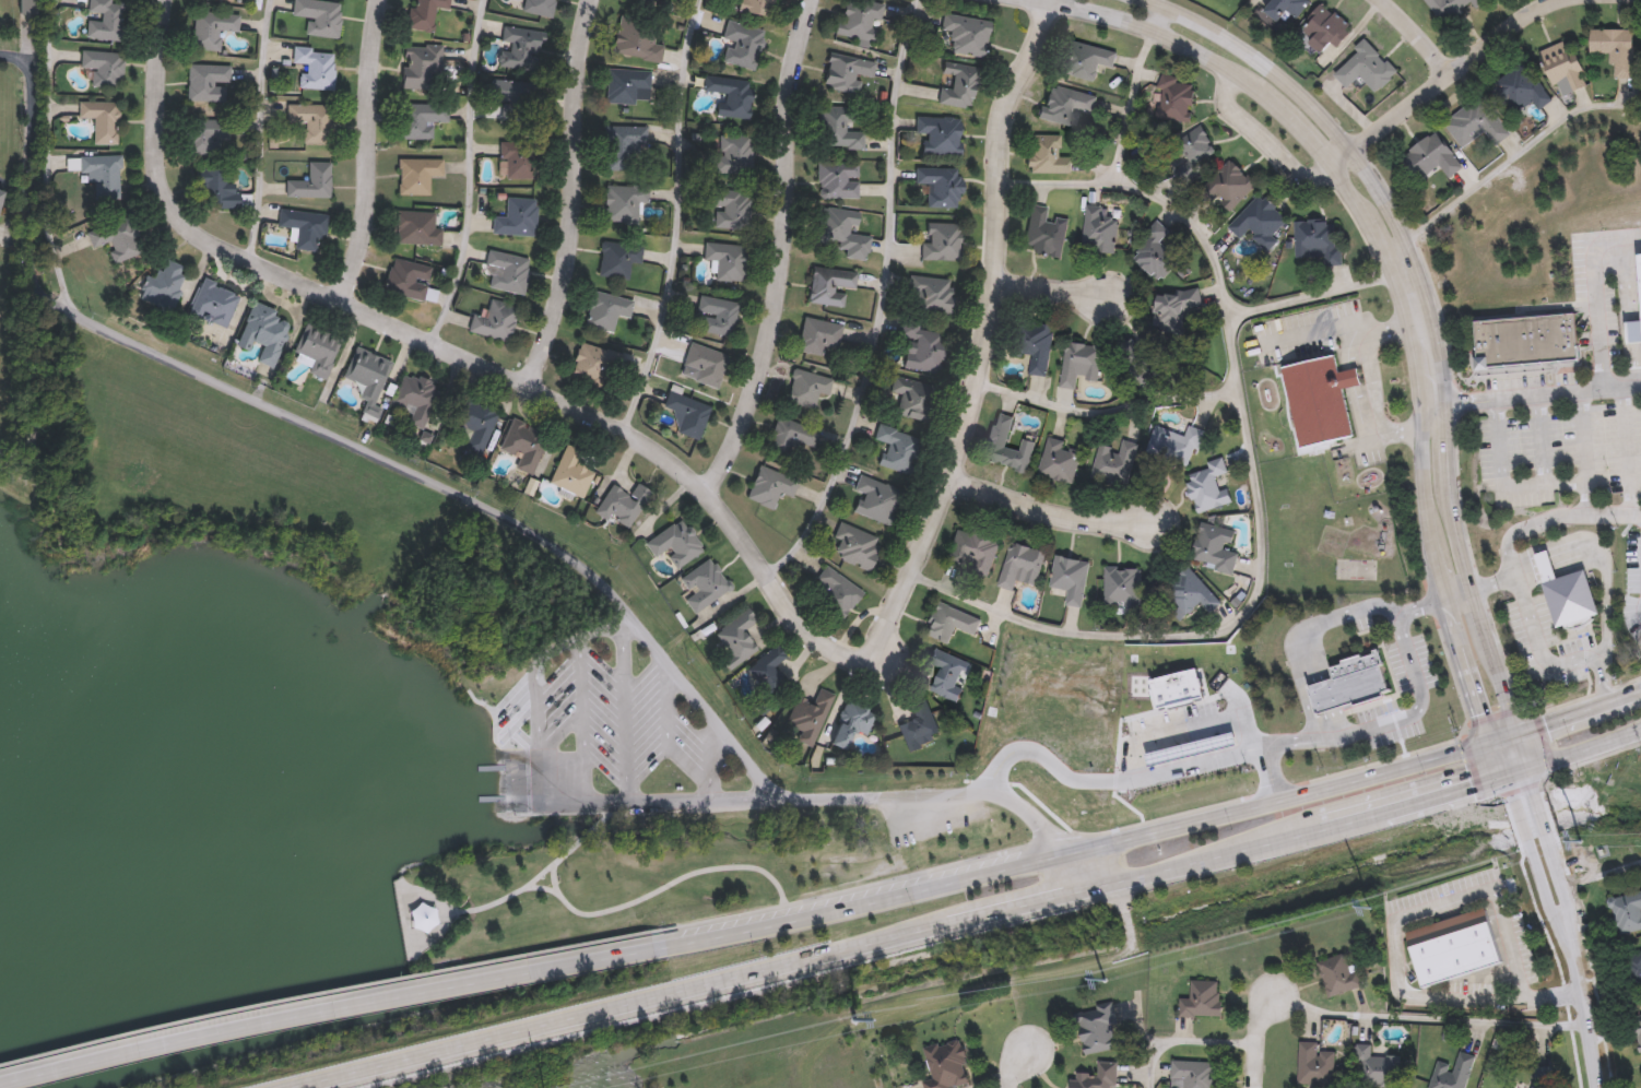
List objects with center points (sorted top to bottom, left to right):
building: (226, 0)
building: (654, 0)
building: (540, 8)
building: (756, 8)
building: (1286, 8)
building: (1452, 8)
building: (425, 13)
road: (1155, 14)
building: (320, 16)
building: (106, 20)
building: (859, 21)
building: (212, 29)
building: (1325, 29)
building: (966, 34)
road: (1416, 34)
building: (637, 40)
building: (743, 46)
building: (520, 48)
building: (1616, 49)
building: (1086, 60)
building: (104, 67)
building: (423, 67)
building: (317, 68)
building: (1367, 68)
building: (1563, 68)
building: (847, 74)
road: (1439, 81)
building: (208, 83)
building: (629, 86)
building: (957, 86)
building: (1520, 88)
building: (731, 94)
building: (512, 99)
building: (1177, 102)
building: (1066, 105)
road: (1126, 105)
building: (102, 120)
building: (422, 120)
building: (311, 121)
building: (1476, 122)
road: (261, 128)
building: (839, 128)
building: (203, 133)
building: (941, 135)
road: (1265, 137)
road: (1311, 142)
building: (626, 147)
road: (366, 151)
building: (1193, 151)
building: (734, 154)
road: (1516, 154)
building: (1047, 155)
road: (46, 156)
building: (1432, 156)
building: (518, 159)
road: (31, 173)
building: (103, 175)
road: (472, 175)
building: (418, 176)
building: (838, 179)
building: (312, 182)
road: (15, 186)
building: (941, 186)
building: (1231, 186)
road: (1388, 186)
building: (216, 188)
building: (0, 192)
road: (574, 197)
building: (624, 203)
building: (732, 209)
building: (517, 218)
road: (672, 218)
building: (1260, 222)
building: (304, 226)
building: (417, 228)
building: (1046, 232)
building: (846, 233)
building: (1100, 234)
building: (117, 238)
building: (1317, 240)
building: (942, 241)
road: (1394, 247)
road: (781, 251)
building: (1157, 252)
building: (618, 259)
building: (727, 260)
building: (1639, 271)
building: (508, 272)
building: (408, 279)
building: (164, 285)
building: (830, 285)
road: (1603, 289)
road: (1049, 291)
building: (931, 294)
road: (1310, 295)
road: (883, 299)
building: (214, 304)
building: (1178, 305)
building: (607, 310)
building: (718, 315)
building: (495, 321)
road: (1435, 327)
building: (264, 332)
building: (1633, 332)
building: (818, 335)
building: (1525, 339)
road: (984, 341)
building: (1032, 343)
building: (923, 347)
building: (318, 348)
road: (447, 351)
building: (1081, 363)
building: (592, 364)
building: (707, 364)
building: (1144, 366)
building: (368, 372)
road: (1368, 383)
building: (807, 388)
road: (1543, 393)
building: (416, 397)
building: (1320, 399)
building: (913, 401)
road: (1103, 413)
building: (688, 414)
building: (474, 423)
road: (1433, 425)
building: (791, 436)
road: (1582, 437)
road: (1540, 440)
building: (999, 441)
road: (1370, 441)
building: (524, 444)
building: (1176, 445)
building: (897, 448)
road: (1624, 452)
building: (1061, 461)
building: (1114, 463)
building: (571, 473)
building: (771, 486)
building: (1208, 486)
road: (1243, 487)
road: (1514, 487)
building: (876, 499)
building: (622, 504)
road: (1461, 506)
road: (1047, 509)
road: (541, 536)
building: (676, 543)
building: (857, 545)
building: (1215, 548)
building: (975, 551)
road: (1599, 554)
building: (1022, 566)
building: (1071, 579)
building: (705, 584)
building: (1123, 588)
building: (1190, 594)
building: (1566, 594)
road: (1449, 603)
road: (1378, 606)
building: (951, 622)
building: (737, 638)
road: (1547, 661)
building: (768, 671)
building: (949, 673)
road: (533, 678)
building: (1347, 682)
gas station: (1177, 686)
road: (627, 708)
road: (1417, 711)
road: (1578, 711)
building: (811, 716)
road: (582, 717)
parking lot: (628, 720)
building: (851, 722)
building: (919, 725)
road: (559, 730)
traffic signals: (1515, 731)
traffic signals: (1494, 738)
road: (670, 741)
road: (1259, 742)
building: (1188, 746)
road: (1584, 747)
road: (517, 752)
road: (712, 755)
pier: (489, 766)
traffic signals: (1527, 769)
road: (1516, 772)
traffic signals: (1506, 776)
road: (1102, 779)
road: (543, 780)
road: (1285, 784)
road: (1317, 790)
road: (1444, 794)
pier: (489, 797)
road: (681, 797)
road: (606, 807)
park: (607, 808)
road: (1037, 820)
road: (1351, 820)
road: (591, 828)
power tower: (1581, 844)
road: (1194, 861)
road: (1603, 873)
road: (542, 886)
road: (910, 890)
road: (511, 892)
road: (781, 894)
road: (1007, 907)
power tower: (1371, 909)
building: (1628, 913)
road: (730, 915)
building: (424, 920)
road: (1404, 922)
road: (1577, 926)
road: (1557, 929)
road: (852, 946)
building: (1454, 948)
building: (1636, 971)
building: (1341, 977)
power tower: (1106, 982)
road: (335, 990)
road: (1582, 990)
road: (1550, 996)
building: (1201, 998)
road: (350, 1004)
road: (590, 1010)
road: (1426, 1016)
power tower: (855, 1021)
building: (1095, 1028)
building: (1639, 1032)
road: (1259, 1040)
road: (1183, 1043)
building: (1314, 1065)
building: (944, 1066)
road: (1014, 1069)
building: (1380, 1069)
road: (353, 1071)
building: (1452, 1072)
building: (1191, 1074)
building: (1096, 1077)
building: (1542, 1078)

